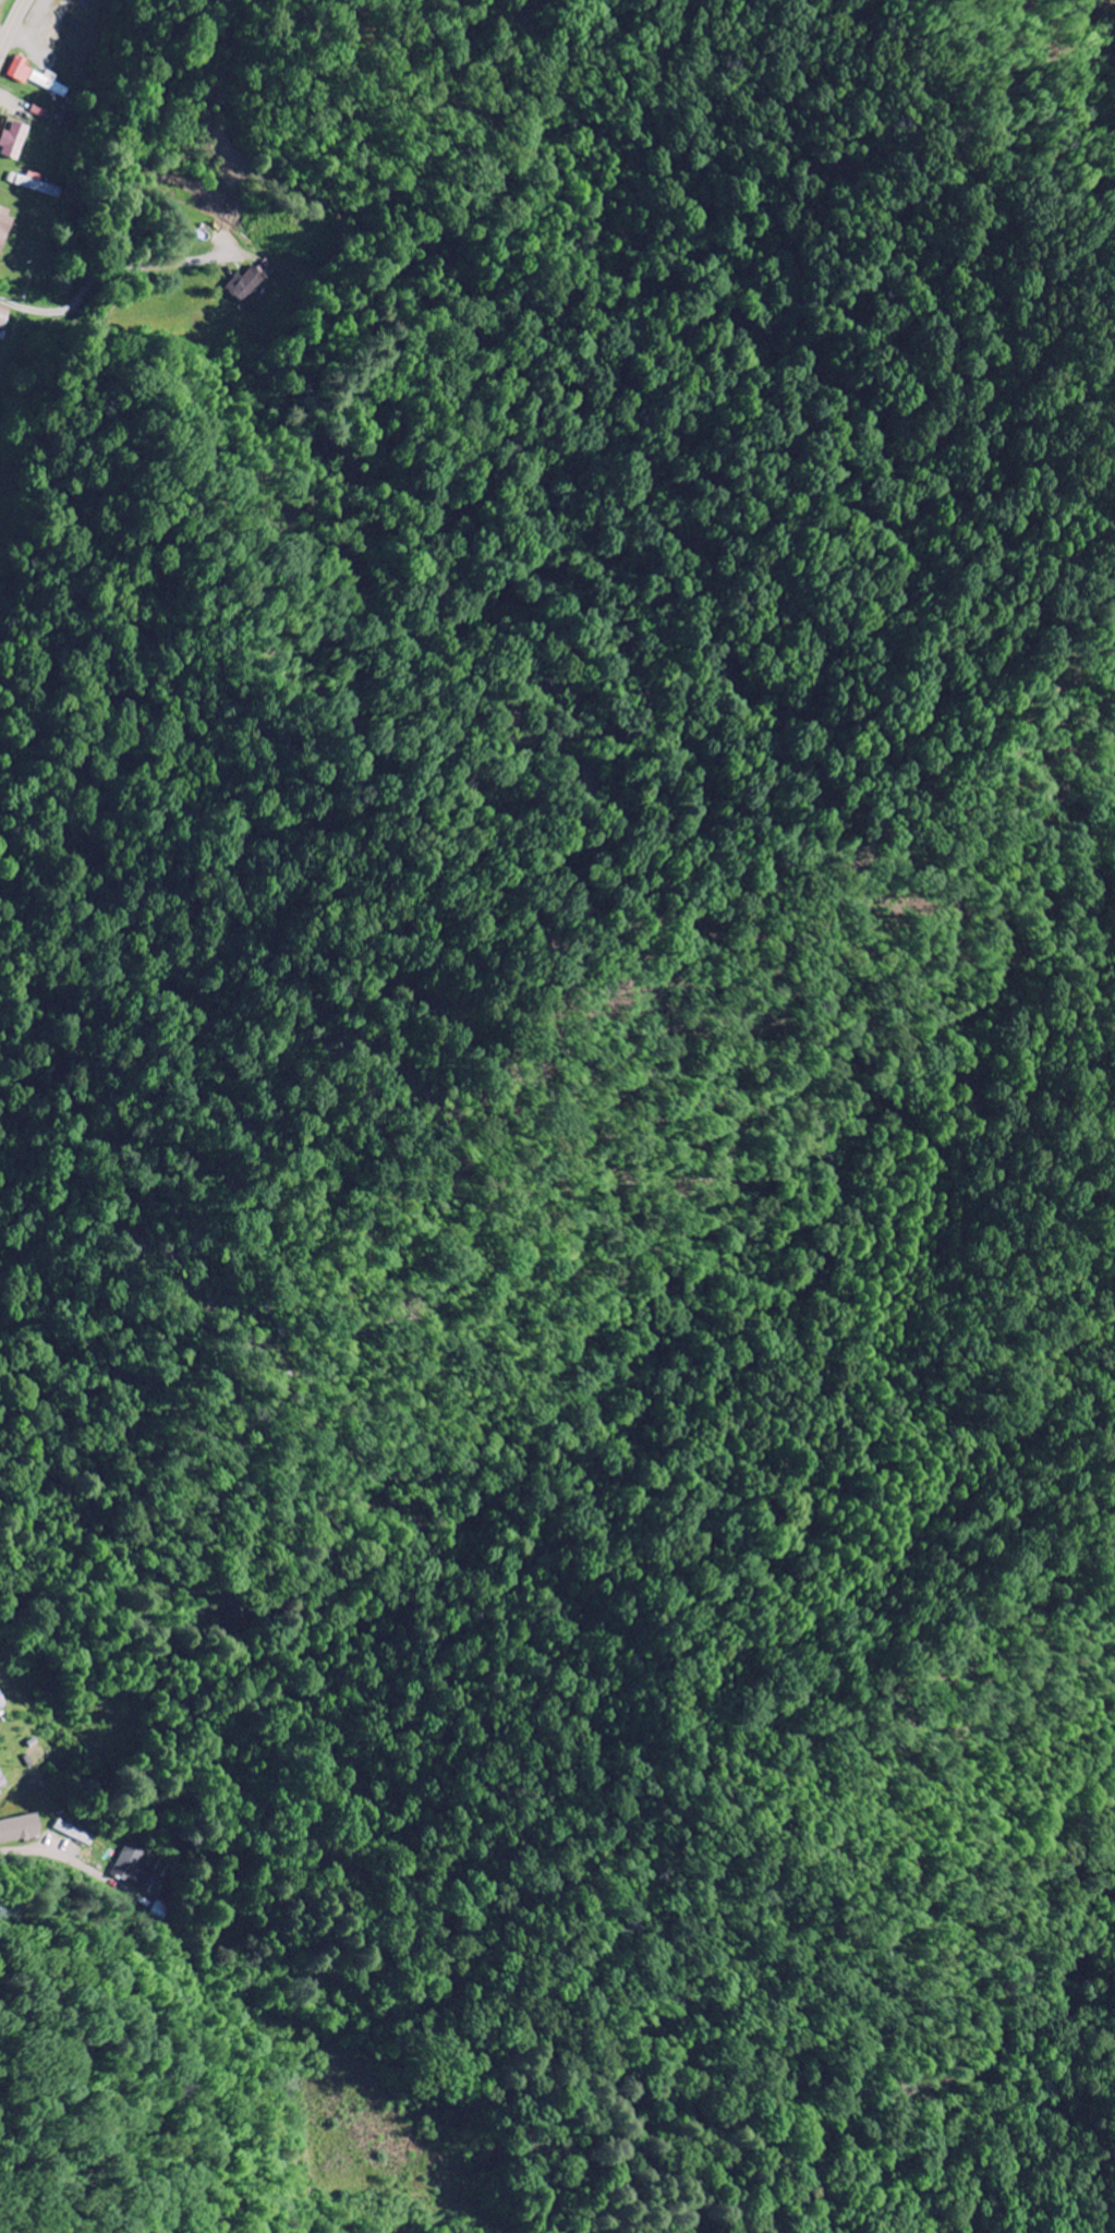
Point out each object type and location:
road: (13, 28)
building: (38, 77)
building: (15, 141)
building: (33, 184)
building: (5, 228)
building: (253, 282)
building: (4, 317)
building: (3, 1701)
building: (2, 1783)
building: (21, 1830)
building: (74, 1834)
road: (38, 1850)
building: (135, 1867)
road: (5, 2062)

